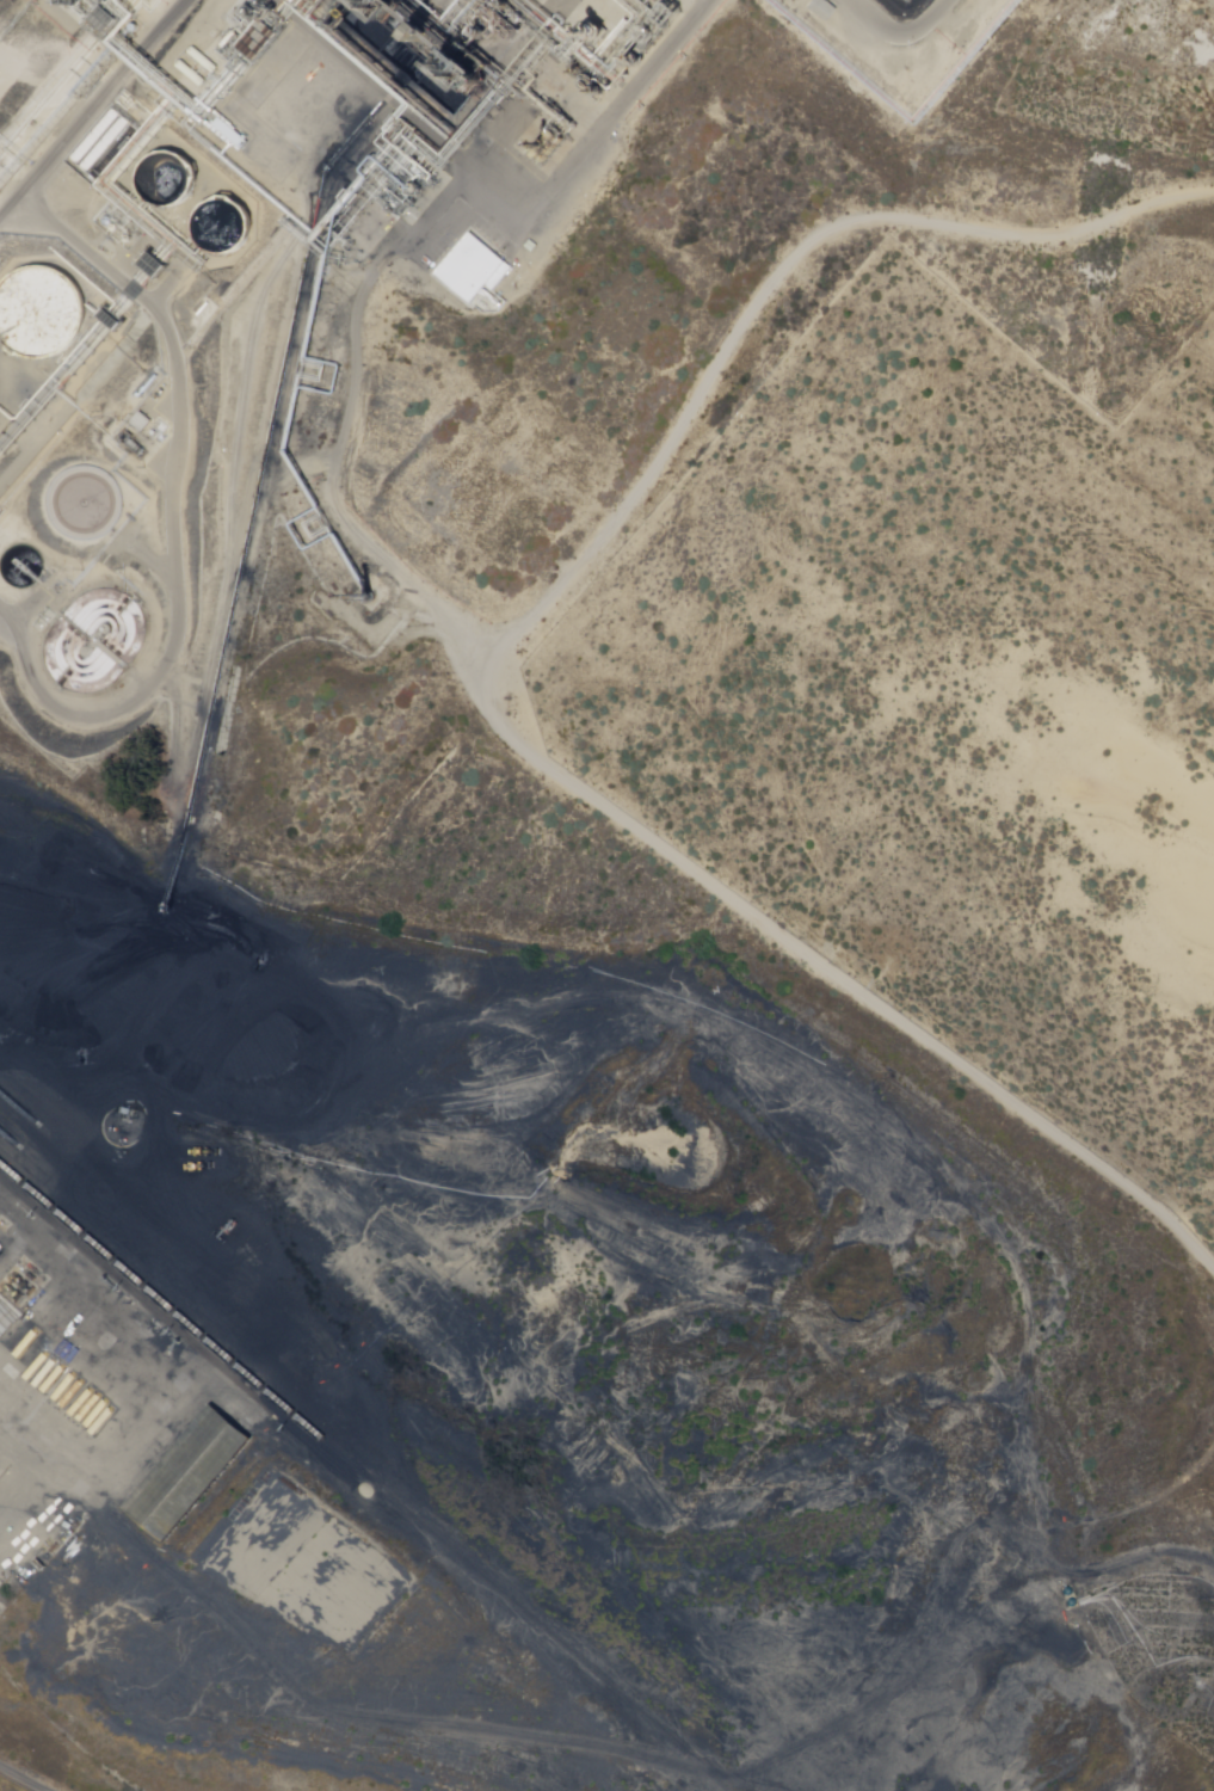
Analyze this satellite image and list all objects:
building: (822, 7)
road: (901, 32)
road: (93, 109)
building: (103, 141)
building: (530, 246)
building: (472, 270)
building: (41, 315)
road: (174, 528)
railway: (356, 1469)
building: (191, 1475)
railway: (346, 1477)

